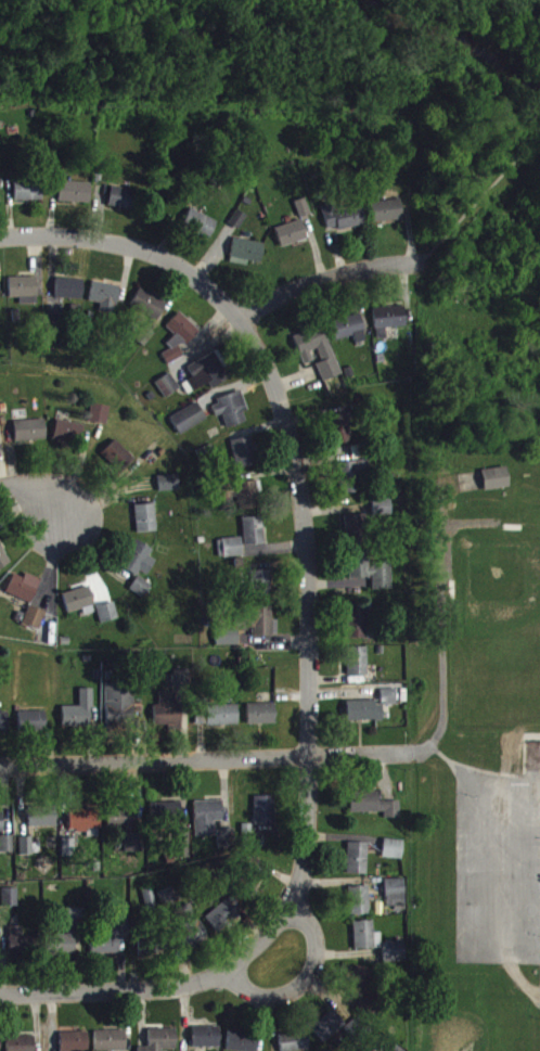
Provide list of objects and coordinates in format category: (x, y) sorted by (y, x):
building: (28, 198)
building: (75, 201)
building: (121, 206)
building: (303, 216)
building: (386, 219)
building: (345, 225)
building: (200, 232)
building: (292, 242)
road: (132, 252)
building: (246, 260)
road: (327, 278)
building: (69, 297)
building: (24, 298)
building: (105, 305)
building: (147, 313)
building: (388, 329)
building: (349, 336)
building: (178, 345)
building: (318, 360)
building: (207, 381)
building: (168, 394)
building: (231, 418)
building: (100, 422)
building: (189, 426)
building: (339, 438)
building: (30, 439)
building: (68, 440)
building: (243, 461)
building: (118, 463)
building: (353, 485)
building: (496, 487)
building: (169, 491)
road: (27, 497)
building: (247, 503)
building: (146, 527)
building: (356, 535)
building: (253, 539)
building: (233, 555)
building: (3, 567)
building: (140, 567)
building: (372, 580)
building: (261, 591)
building: (141, 595)
building: (23, 597)
building: (79, 607)
road: (308, 611)
building: (107, 621)
road: (437, 624)
building: (35, 626)
park: (494, 628)
building: (265, 630)
building: (357, 633)
building: (227, 645)
building: (357, 669)
building: (182, 687)
building: (389, 705)
building: (119, 712)
building: (168, 717)
building: (364, 719)
building: (80, 720)
building: (261, 722)
building: (222, 723)
building: (33, 729)
building: (4, 731)
road: (205, 759)
building: (374, 813)
building: (265, 819)
building: (166, 820)
building: (42, 825)
building: (208, 825)
building: (1, 830)
building: (85, 830)
building: (126, 836)
building: (227, 847)
building: (183, 851)
building: (7, 853)
building: (394, 857)
building: (358, 867)
building: (253, 896)
building: (395, 901)
building: (11, 906)
building: (171, 906)
building: (359, 909)
building: (223, 926)
building: (69, 939)
building: (191, 943)
building: (111, 945)
building: (367, 945)
building: (18, 952)
building: (394, 961)
road: (298, 985)
road: (160, 991)
building: (363, 994)
park: (471, 1013)
building: (329, 1035)
building: (206, 1043)
building: (111, 1044)
building: (163, 1044)
building: (75, 1046)
building: (243, 1046)
building: (294, 1046)
building: (0, 1047)
building: (22, 1048)

